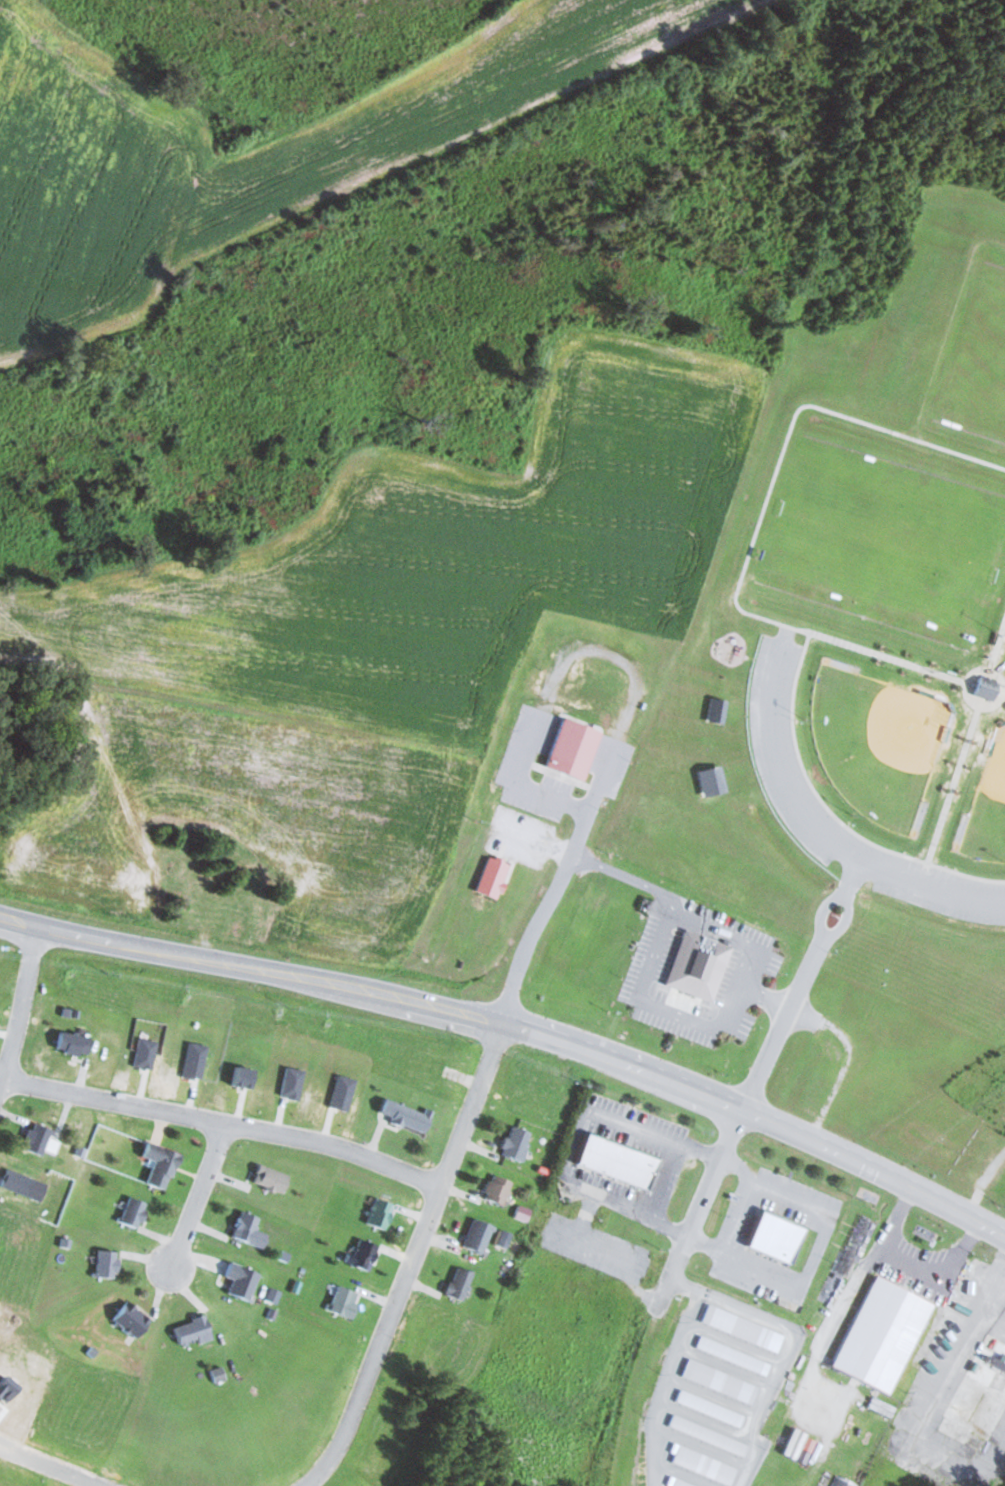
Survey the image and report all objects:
park: (979, 355)
road: (786, 438)
park: (885, 543)
park: (867, 562)
road: (997, 644)
road: (887, 656)
road: (1003, 682)
building: (982, 686)
road: (1003, 694)
building: (713, 709)
park: (875, 742)
building: (576, 747)
road: (601, 776)
parking lot: (782, 777)
building: (707, 779)
road: (523, 784)
road: (953, 784)
park: (988, 807)
road: (830, 810)
road: (812, 824)
building: (510, 825)
road: (855, 875)
building: (493, 876)
road: (629, 876)
building: (483, 889)
road: (824, 909)
road: (543, 914)
road: (845, 920)
road: (138, 946)
building: (701, 964)
road: (390, 994)
road: (765, 997)
road: (19, 1008)
road: (719, 1024)
road: (781, 1025)
building: (75, 1044)
building: (431, 1074)
building: (535, 1099)
road: (759, 1116)
building: (409, 1117)
road: (224, 1120)
building: (39, 1138)
building: (517, 1142)
road: (716, 1153)
building: (619, 1161)
building: (162, 1165)
building: (264, 1182)
building: (499, 1189)
road: (198, 1192)
road: (699, 1202)
building: (135, 1212)
building: (380, 1213)
building: (246, 1227)
building: (479, 1236)
building: (778, 1237)
building: (364, 1255)
road: (413, 1259)
building: (108, 1263)
building: (461, 1283)
building: (345, 1302)
building: (133, 1320)
building: (744, 1328)
building: (195, 1329)
building: (884, 1335)
building: (734, 1355)
building: (721, 1381)
building: (980, 1396)
building: (711, 1408)
building: (858, 1432)
building: (709, 1435)
building: (706, 1465)
road: (51, 1466)
building: (682, 1482)

